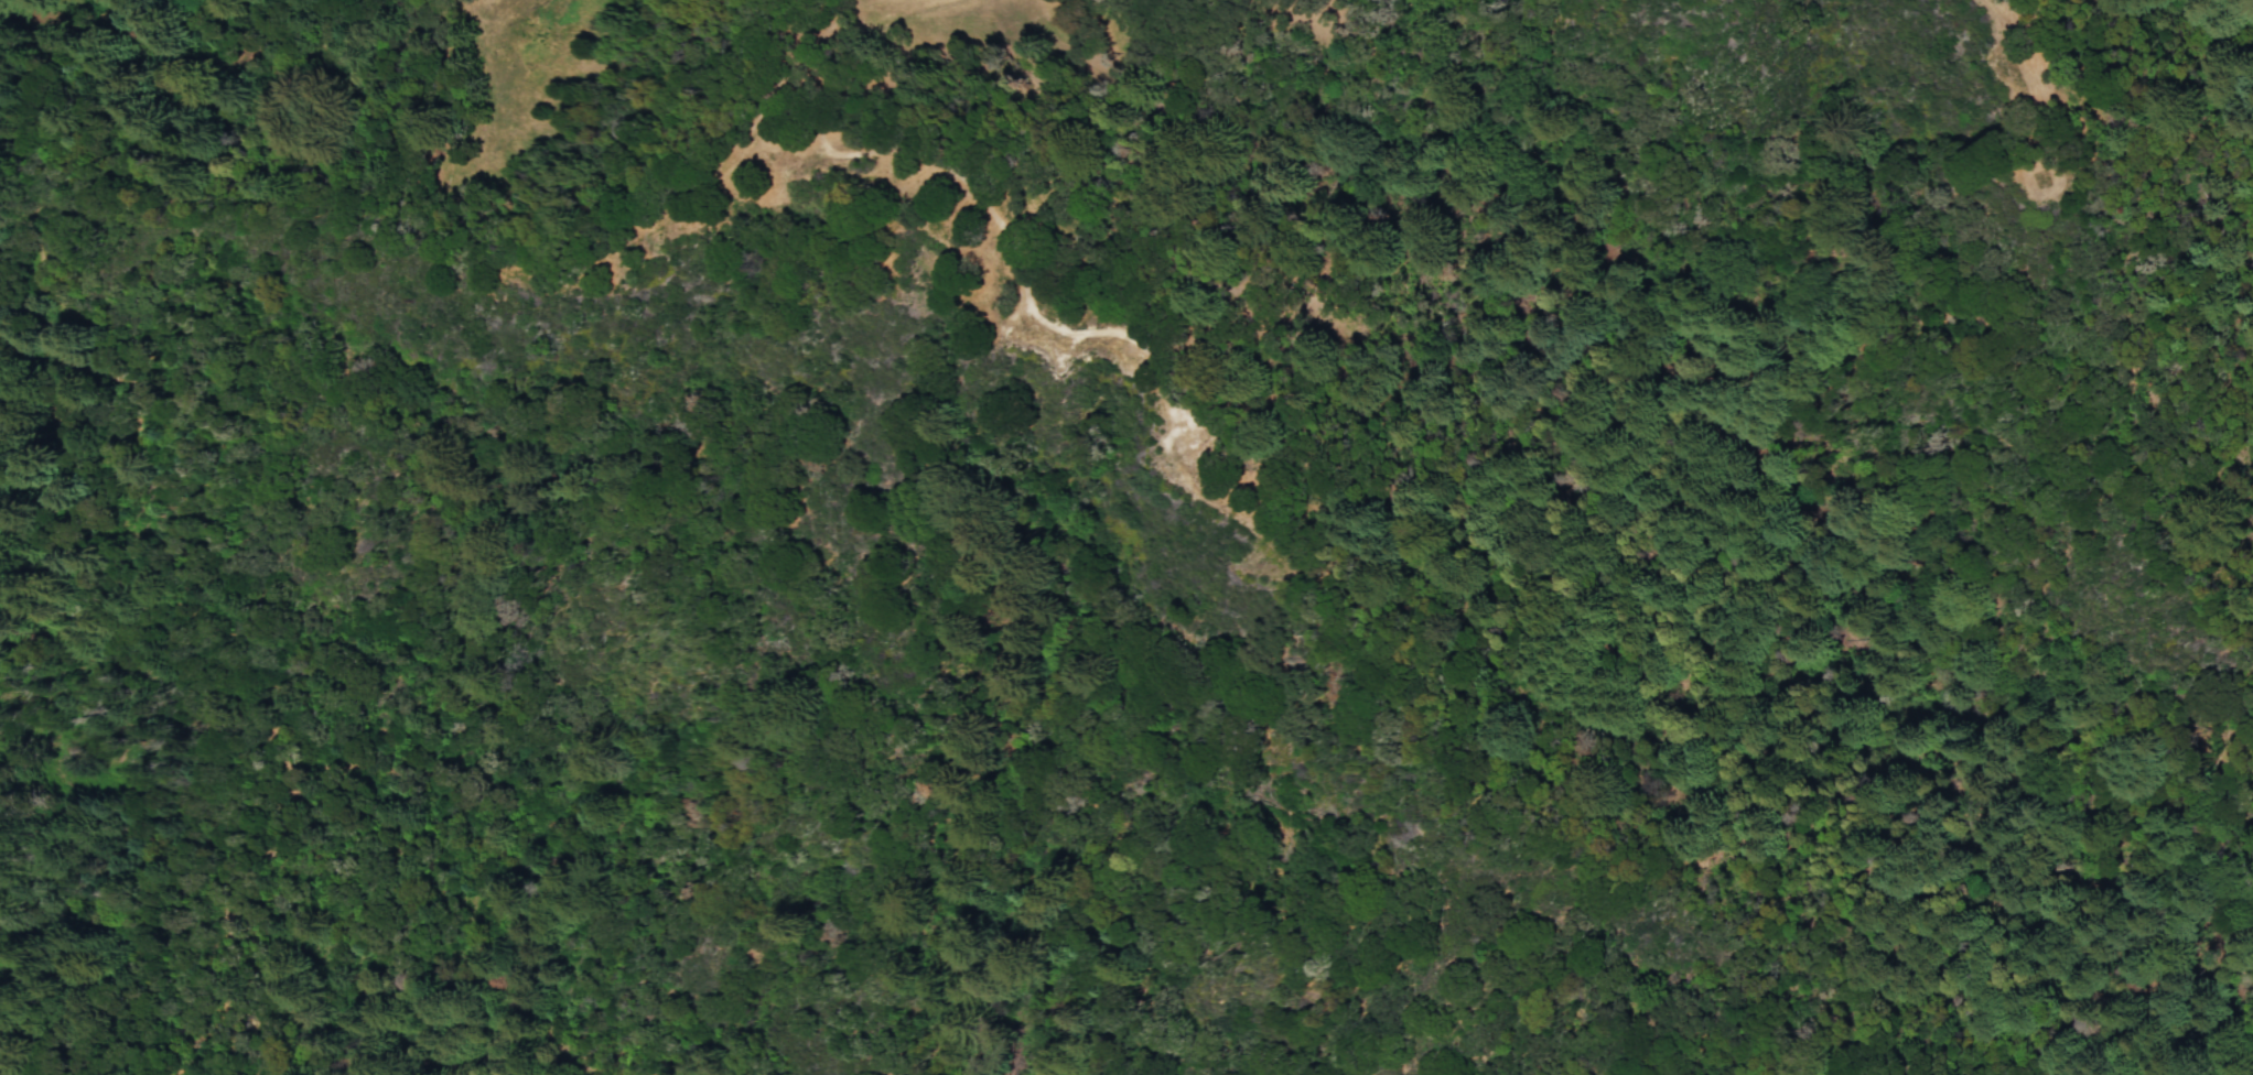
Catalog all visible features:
road: (2030, 86)
road: (887, 895)
road: (218, 998)
road: (507, 1029)

